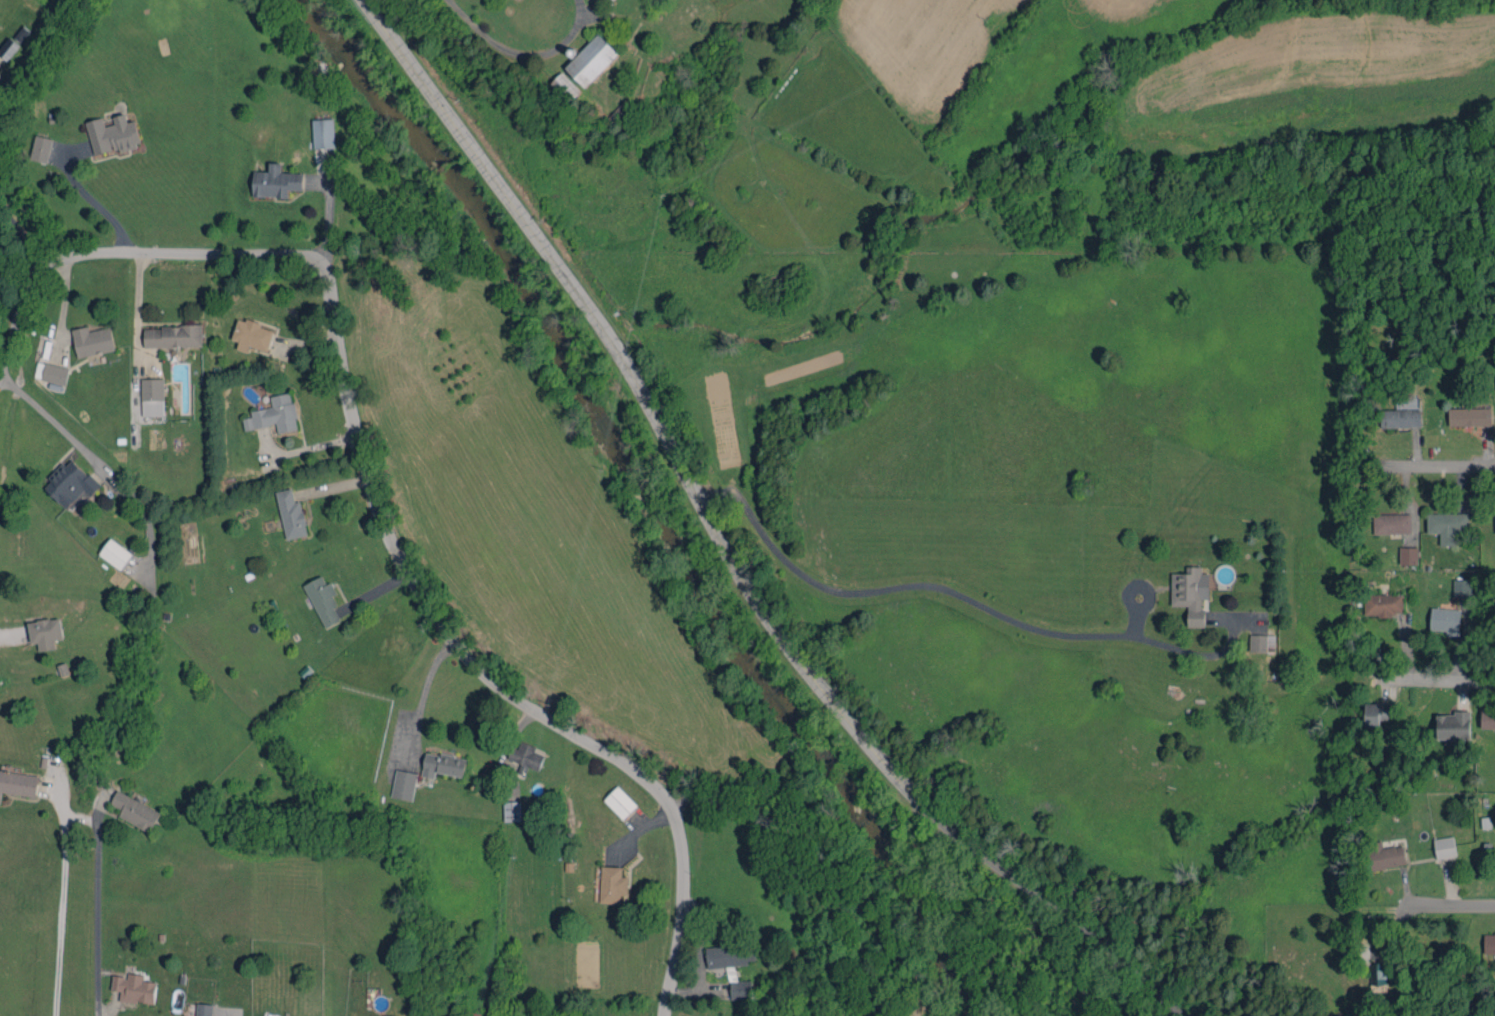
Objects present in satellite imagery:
road: (520, 52)
building: (592, 60)
building: (565, 86)
building: (323, 133)
building: (112, 134)
building: (41, 148)
building: (276, 182)
road: (95, 202)
road: (19, 245)
building: (252, 335)
building: (172, 336)
building: (92, 340)
building: (51, 372)
building: (152, 397)
building: (274, 414)
building: (1470, 416)
building: (1400, 418)
road: (99, 463)
road: (1439, 465)
building: (71, 484)
road: (379, 501)
building: (291, 514)
building: (1392, 523)
building: (1447, 526)
road: (728, 549)
building: (115, 553)
building: (1408, 555)
road: (928, 585)
building: (1462, 587)
building: (1190, 593)
building: (323, 600)
building: (1382, 604)
building: (1445, 620)
building: (45, 632)
building: (1258, 643)
road: (1434, 681)
road: (422, 692)
building: (1375, 713)
building: (1487, 719)
building: (1453, 725)
building: (526, 757)
building: (443, 765)
building: (18, 783)
building: (403, 784)
building: (620, 802)
building: (136, 810)
building: (512, 811)
building: (1444, 847)
building: (1384, 858)
building: (613, 884)
road: (1452, 904)
road: (61, 906)
road: (97, 920)
building: (1489, 943)
building: (730, 951)
building: (1381, 976)
building: (738, 986)
building: (134, 988)
building: (204, 1009)
road: (226, 1013)
building: (480, 1014)
building: (181, 1015)
building: (387, 1015)

